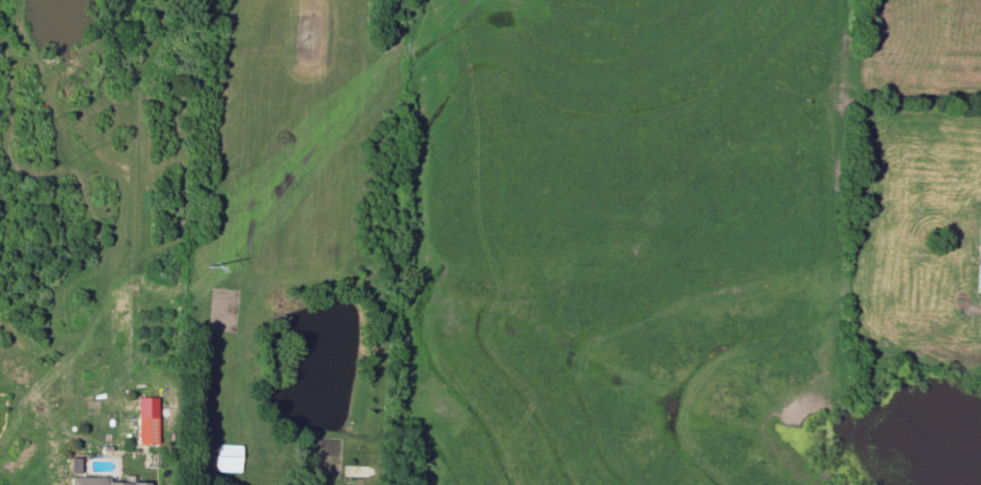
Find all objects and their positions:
building: (980, 233)
power tower: (204, 267)
building: (143, 419)
building: (226, 457)
building: (73, 464)
building: (99, 481)

